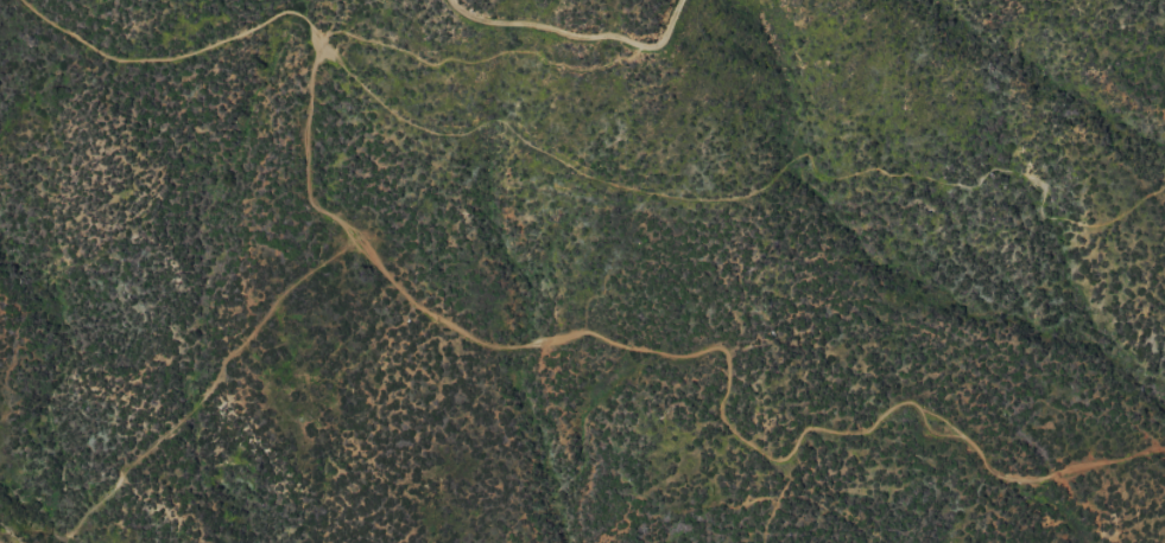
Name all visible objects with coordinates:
road: (576, 38)
road: (547, 339)

